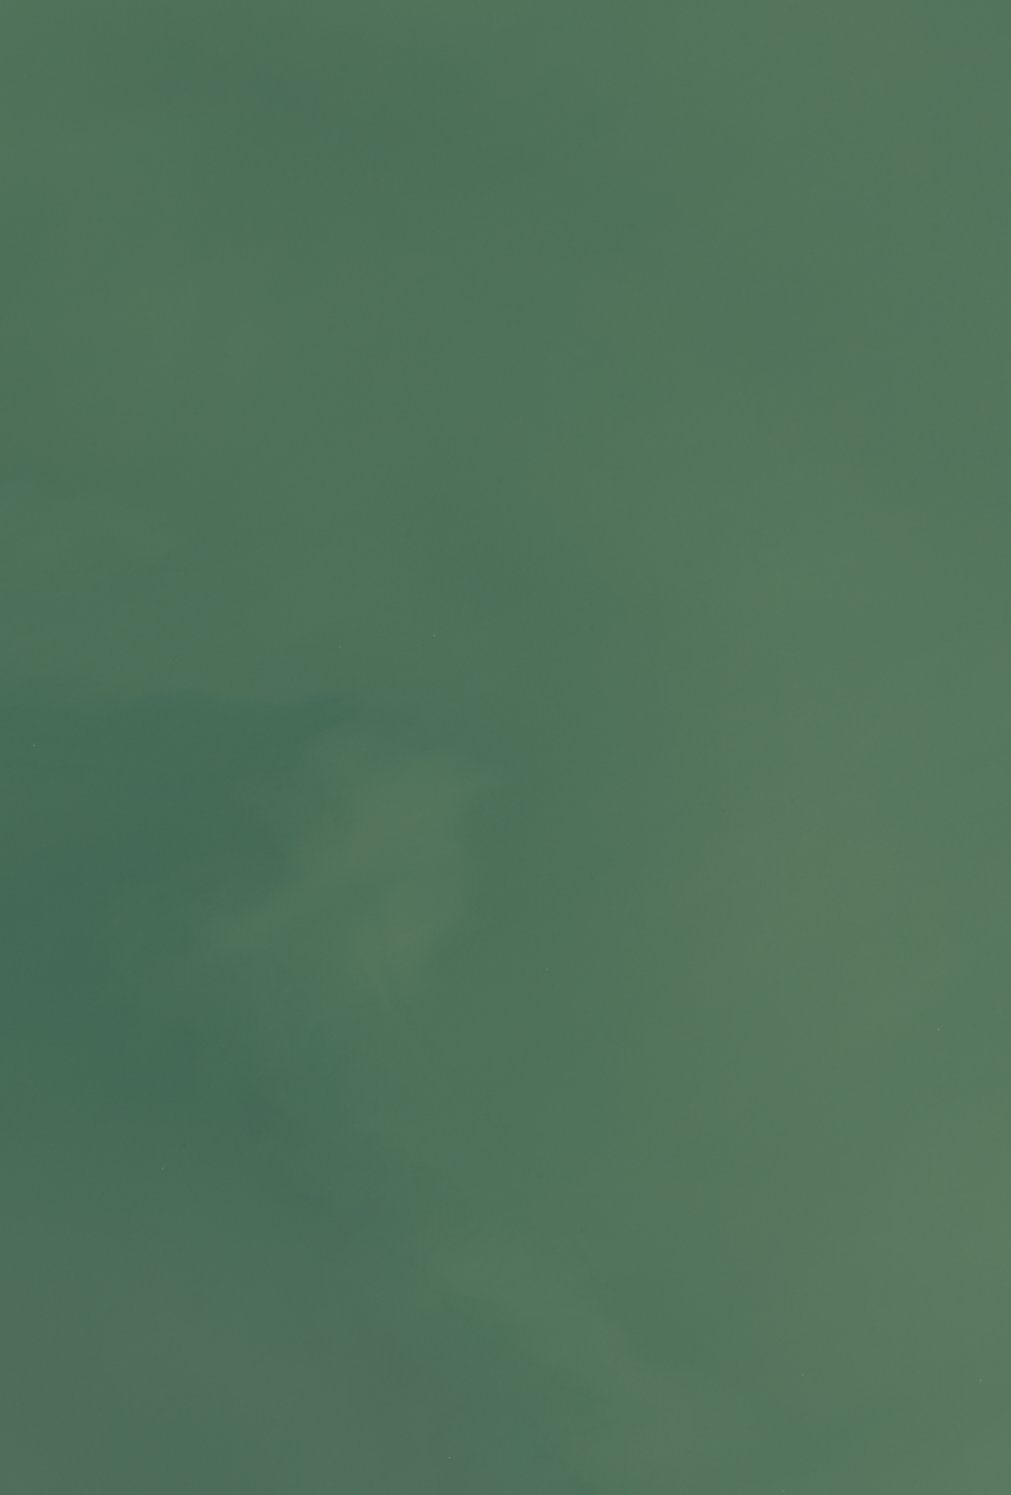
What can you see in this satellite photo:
river: (505, 562)

